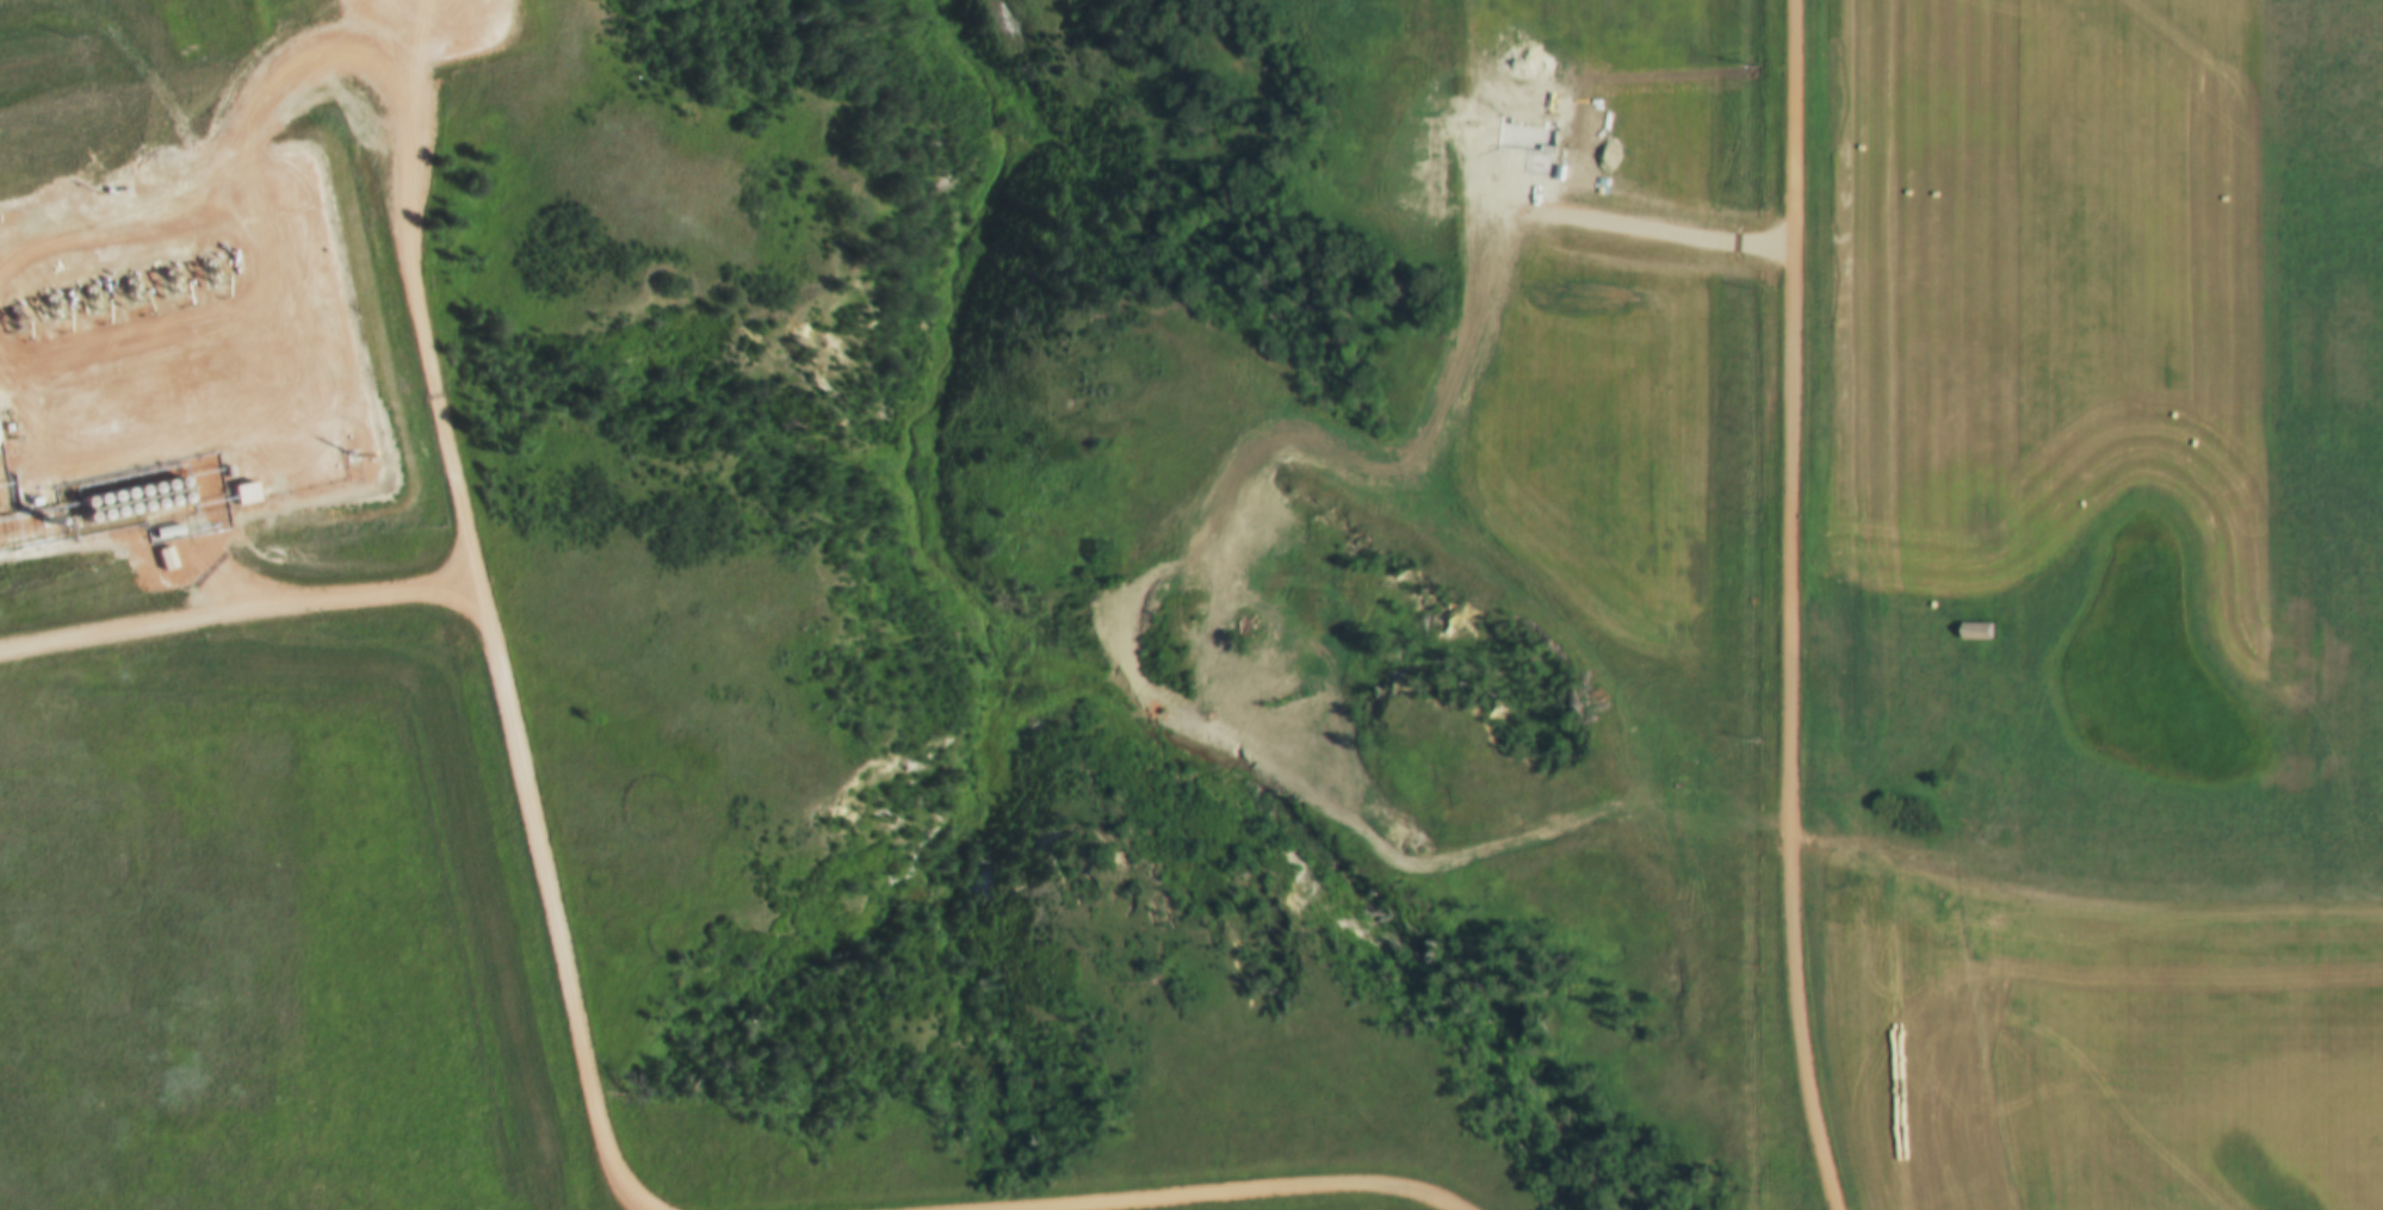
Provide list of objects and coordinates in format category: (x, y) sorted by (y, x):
road: (1790, 606)
road: (1246, 1193)

